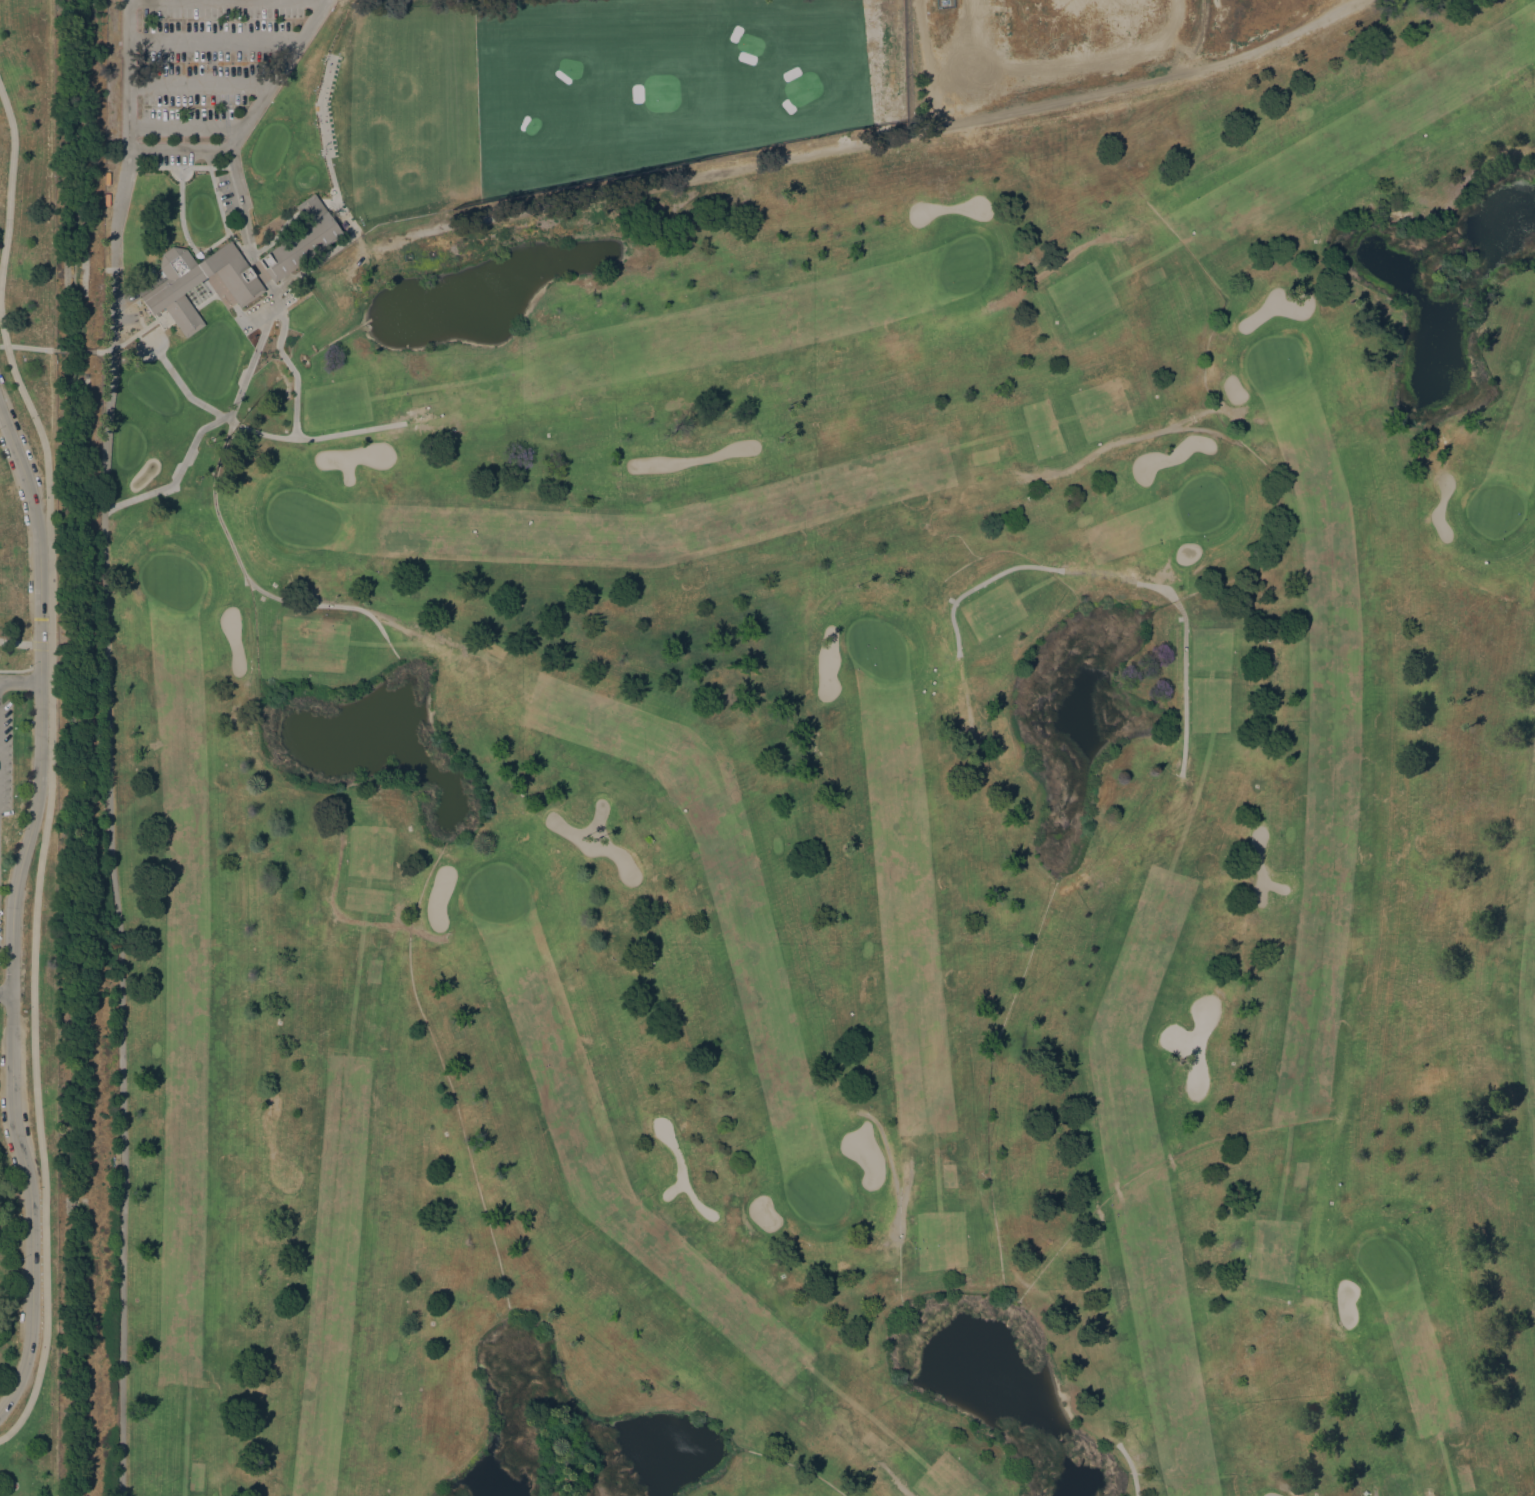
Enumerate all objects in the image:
road: (145, 0)
road: (213, 40)
parking lot: (206, 70)
road: (197, 85)
park: (591, 92)
road: (252, 113)
road: (125, 125)
road: (184, 126)
road: (860, 141)
road: (324, 148)
road: (166, 165)
road: (180, 211)
road: (230, 233)
building: (301, 240)
road: (212, 242)
road: (313, 262)
building: (169, 288)
road: (229, 300)
road: (189, 303)
road: (190, 315)
road: (111, 326)
road: (130, 336)
road: (143, 341)
road: (27, 347)
road: (72, 350)
road: (291, 368)
road: (1198, 413)
road: (203, 427)
road: (1203, 429)
road: (262, 433)
road: (1081, 460)
road: (237, 556)
road: (986, 580)
road: (404, 628)
road: (15, 642)
road: (35, 645)
road: (44, 645)
road: (40, 667)
road: (15, 670)
road: (19, 680)
road: (1183, 686)
park: (767, 748)
park: (27, 750)
road: (1534, 753)
parking lot: (5, 755)
road: (50, 766)
park: (842, 805)
road: (391, 823)
road: (447, 854)
road: (334, 908)
road: (11, 909)
road: (426, 933)
road: (5, 992)
road: (120, 1002)
road: (878, 1462)
road: (1130, 1468)
road: (1374, 1492)

